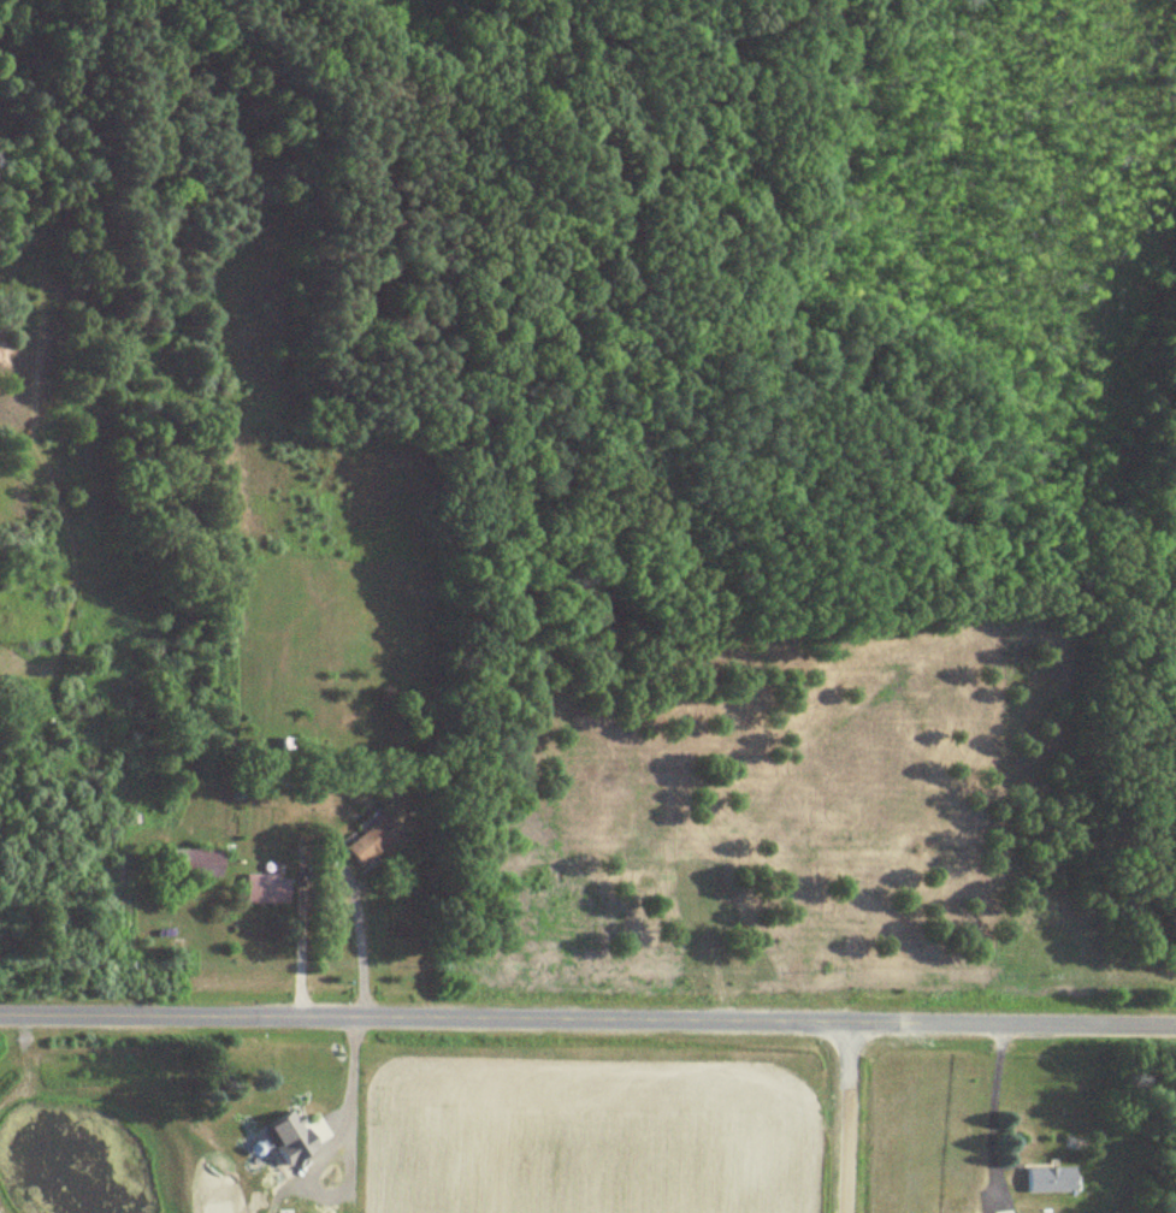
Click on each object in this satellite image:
building: (367, 841)
building: (185, 864)
building: (260, 890)
road: (356, 951)
road: (587, 1022)
road: (988, 1117)
road: (845, 1118)
road: (344, 1154)
building: (1046, 1182)
building: (266, 1195)

